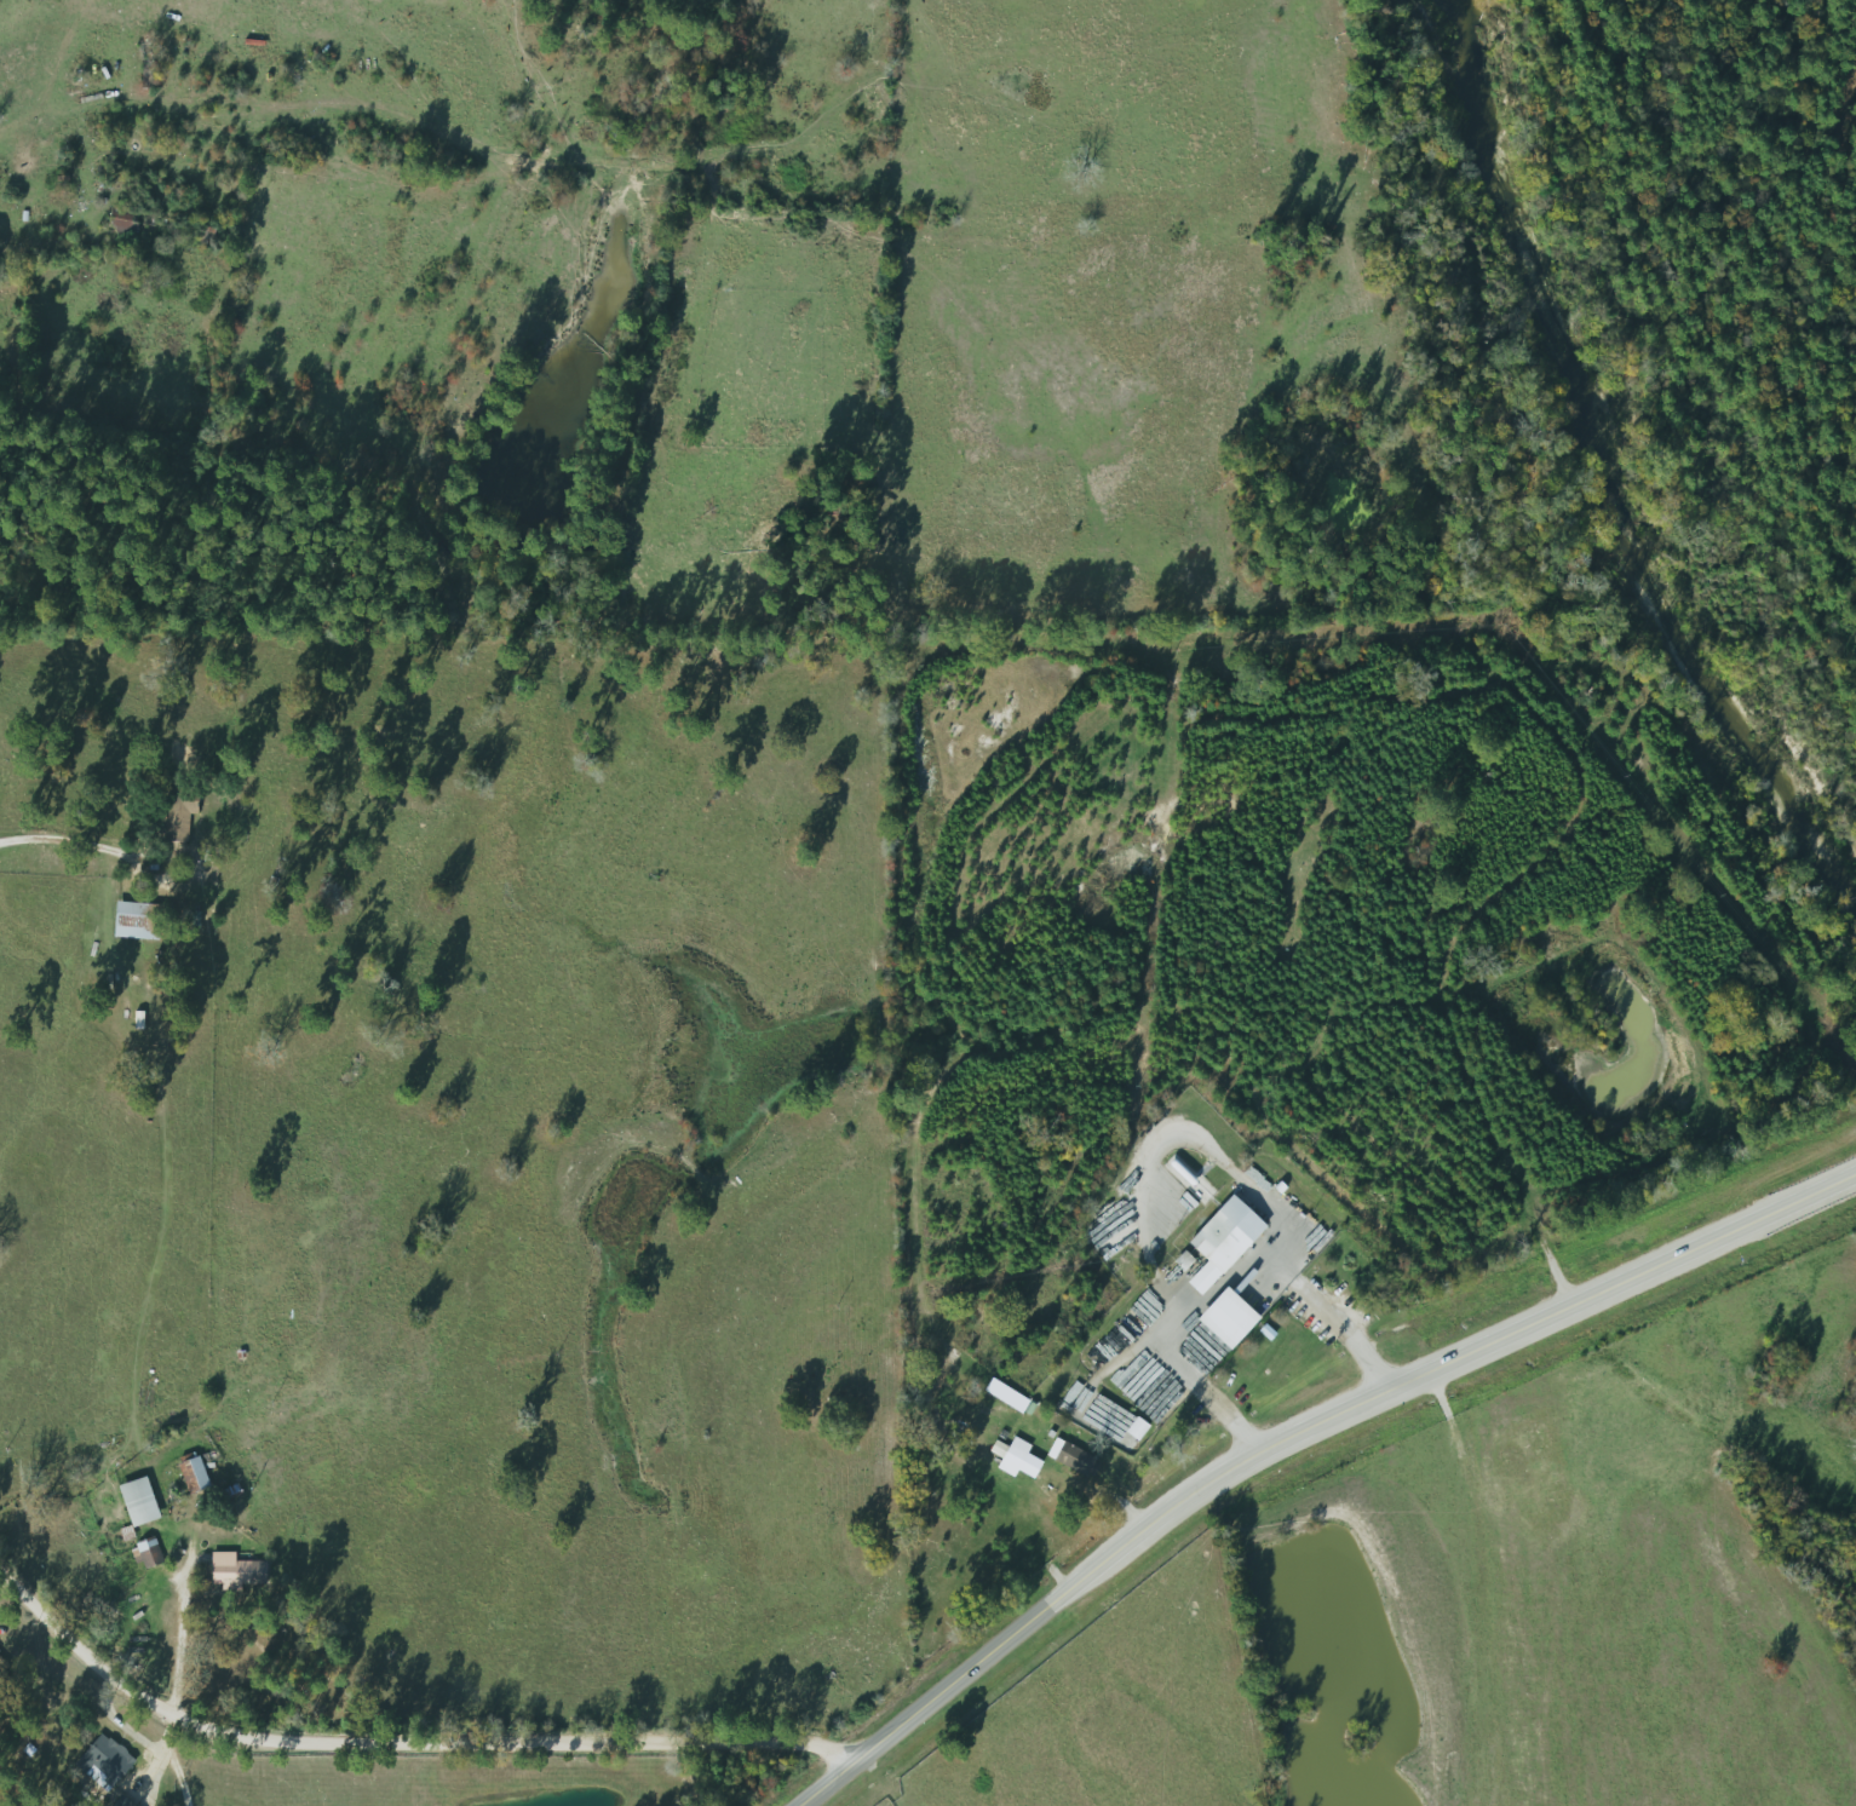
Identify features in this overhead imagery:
building: (120, 220)
building: (174, 812)
road: (76, 834)
building: (126, 919)
building: (1220, 1235)
building: (1220, 1319)
road: (1287, 1423)
building: (1069, 1459)
building: (188, 1474)
building: (132, 1501)
building: (144, 1553)
building: (229, 1570)
road: (398, 1739)
building: (105, 1758)

